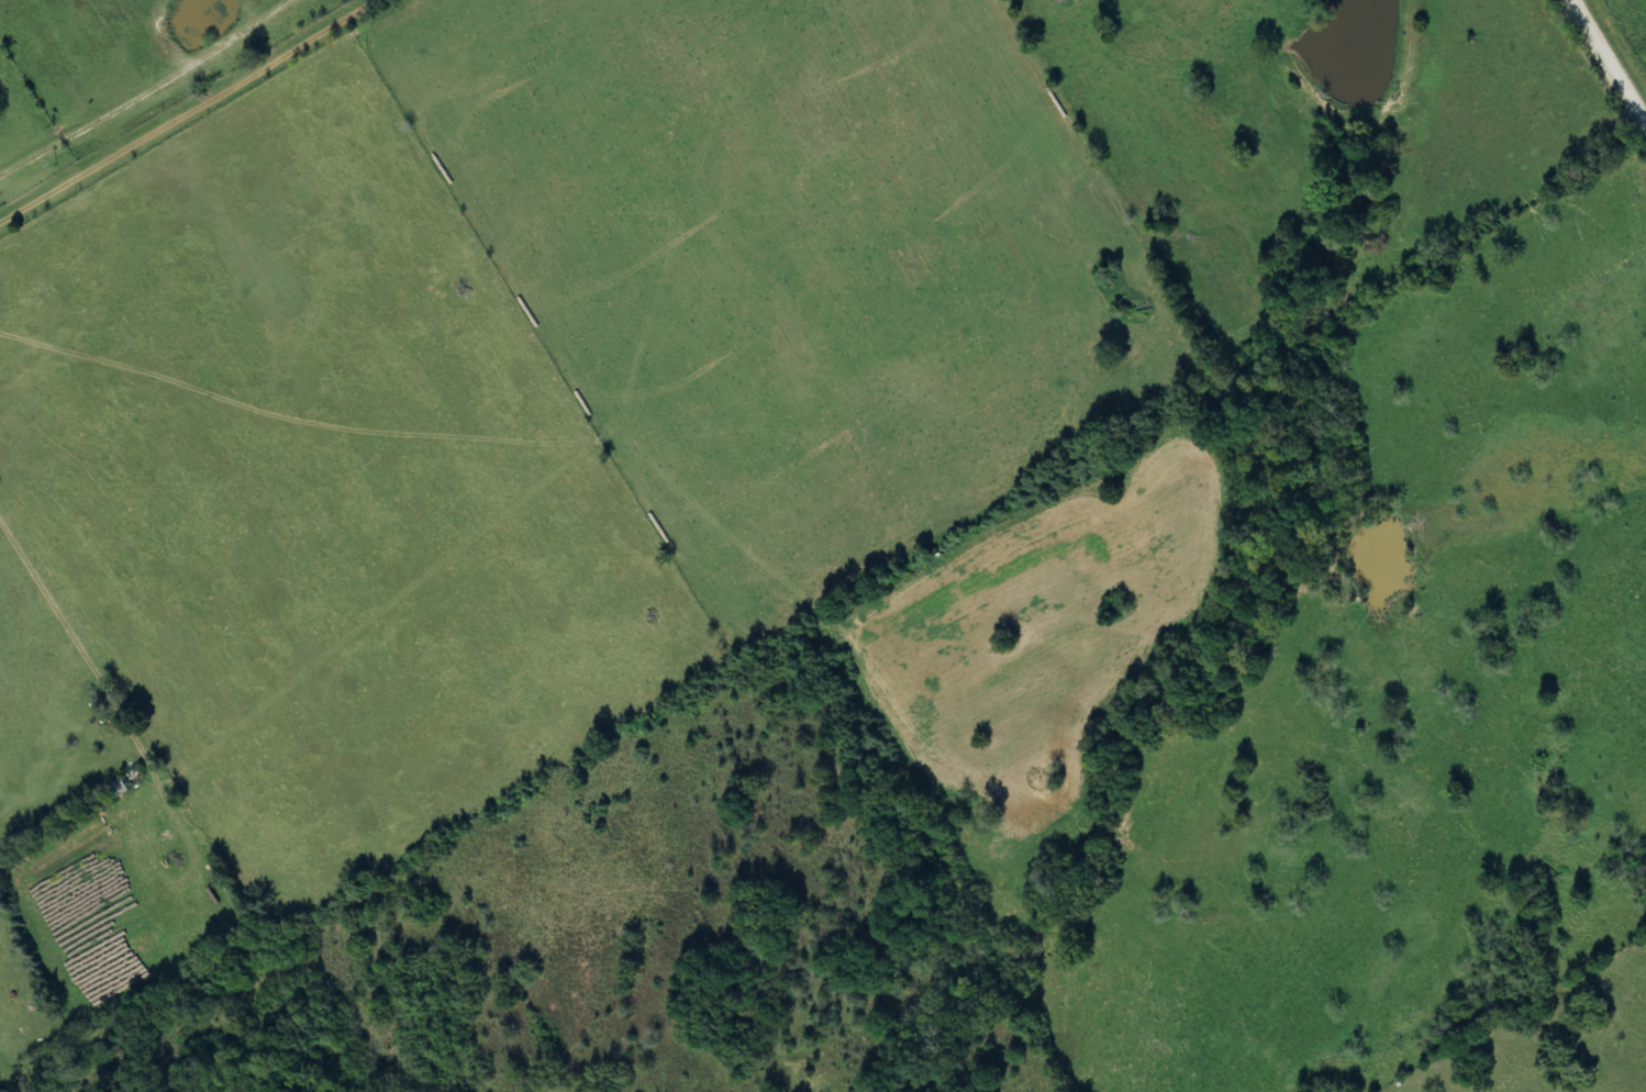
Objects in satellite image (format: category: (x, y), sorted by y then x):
road: (1610, 60)

